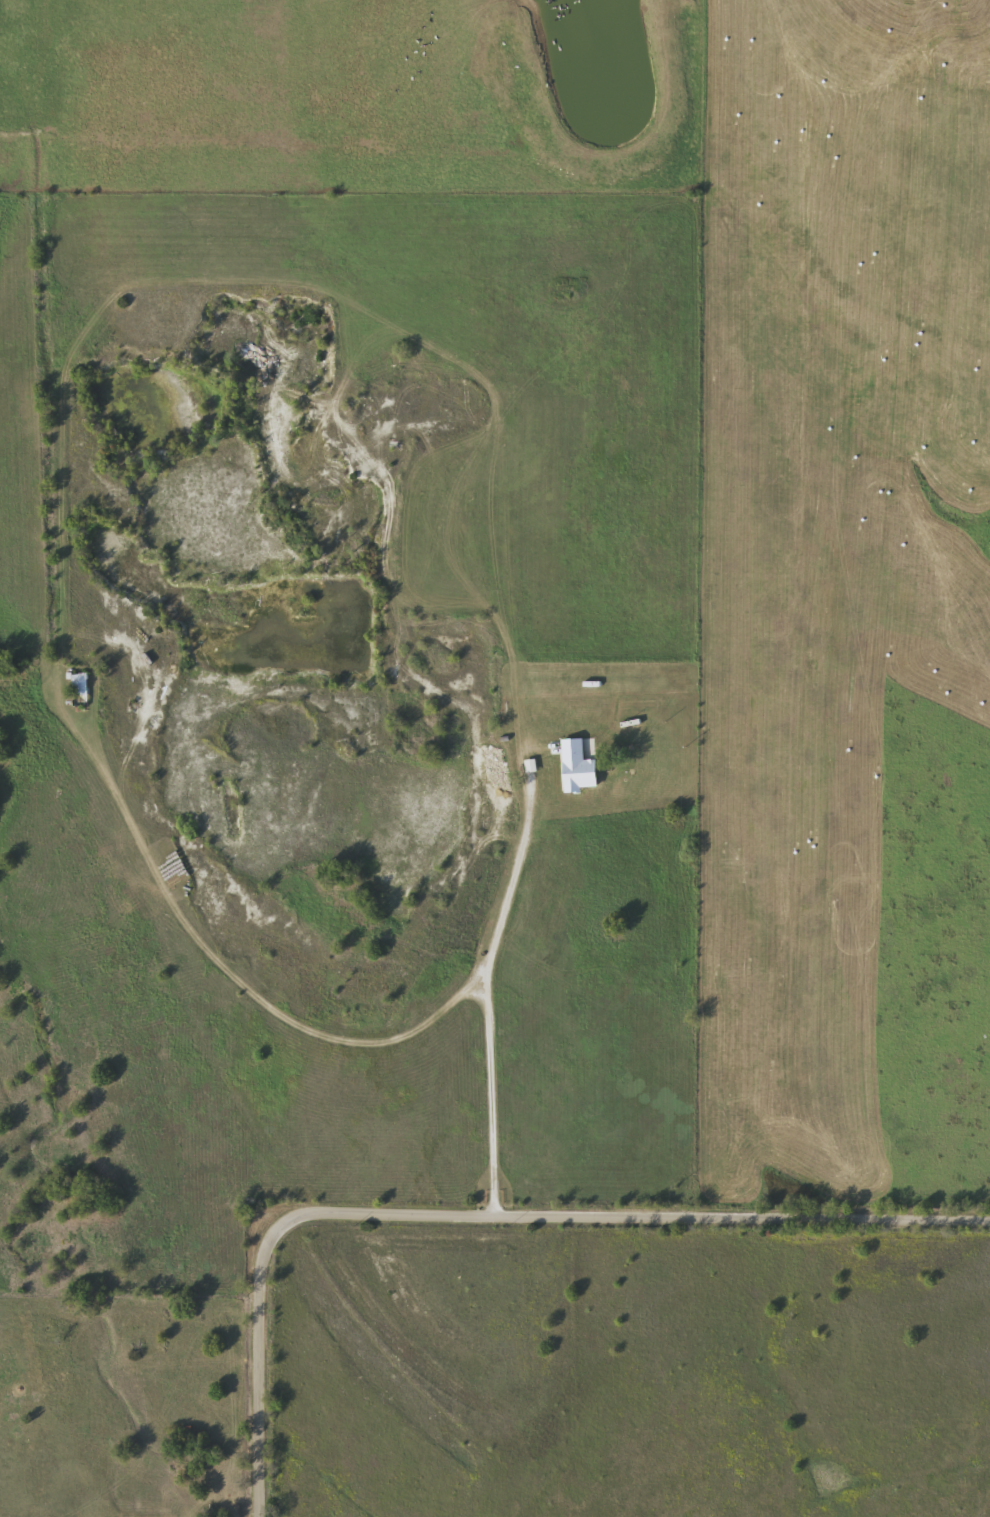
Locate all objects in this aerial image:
building: (80, 686)
building: (586, 744)
road: (513, 882)
road: (226, 970)
road: (485, 1094)
road: (485, 1207)

